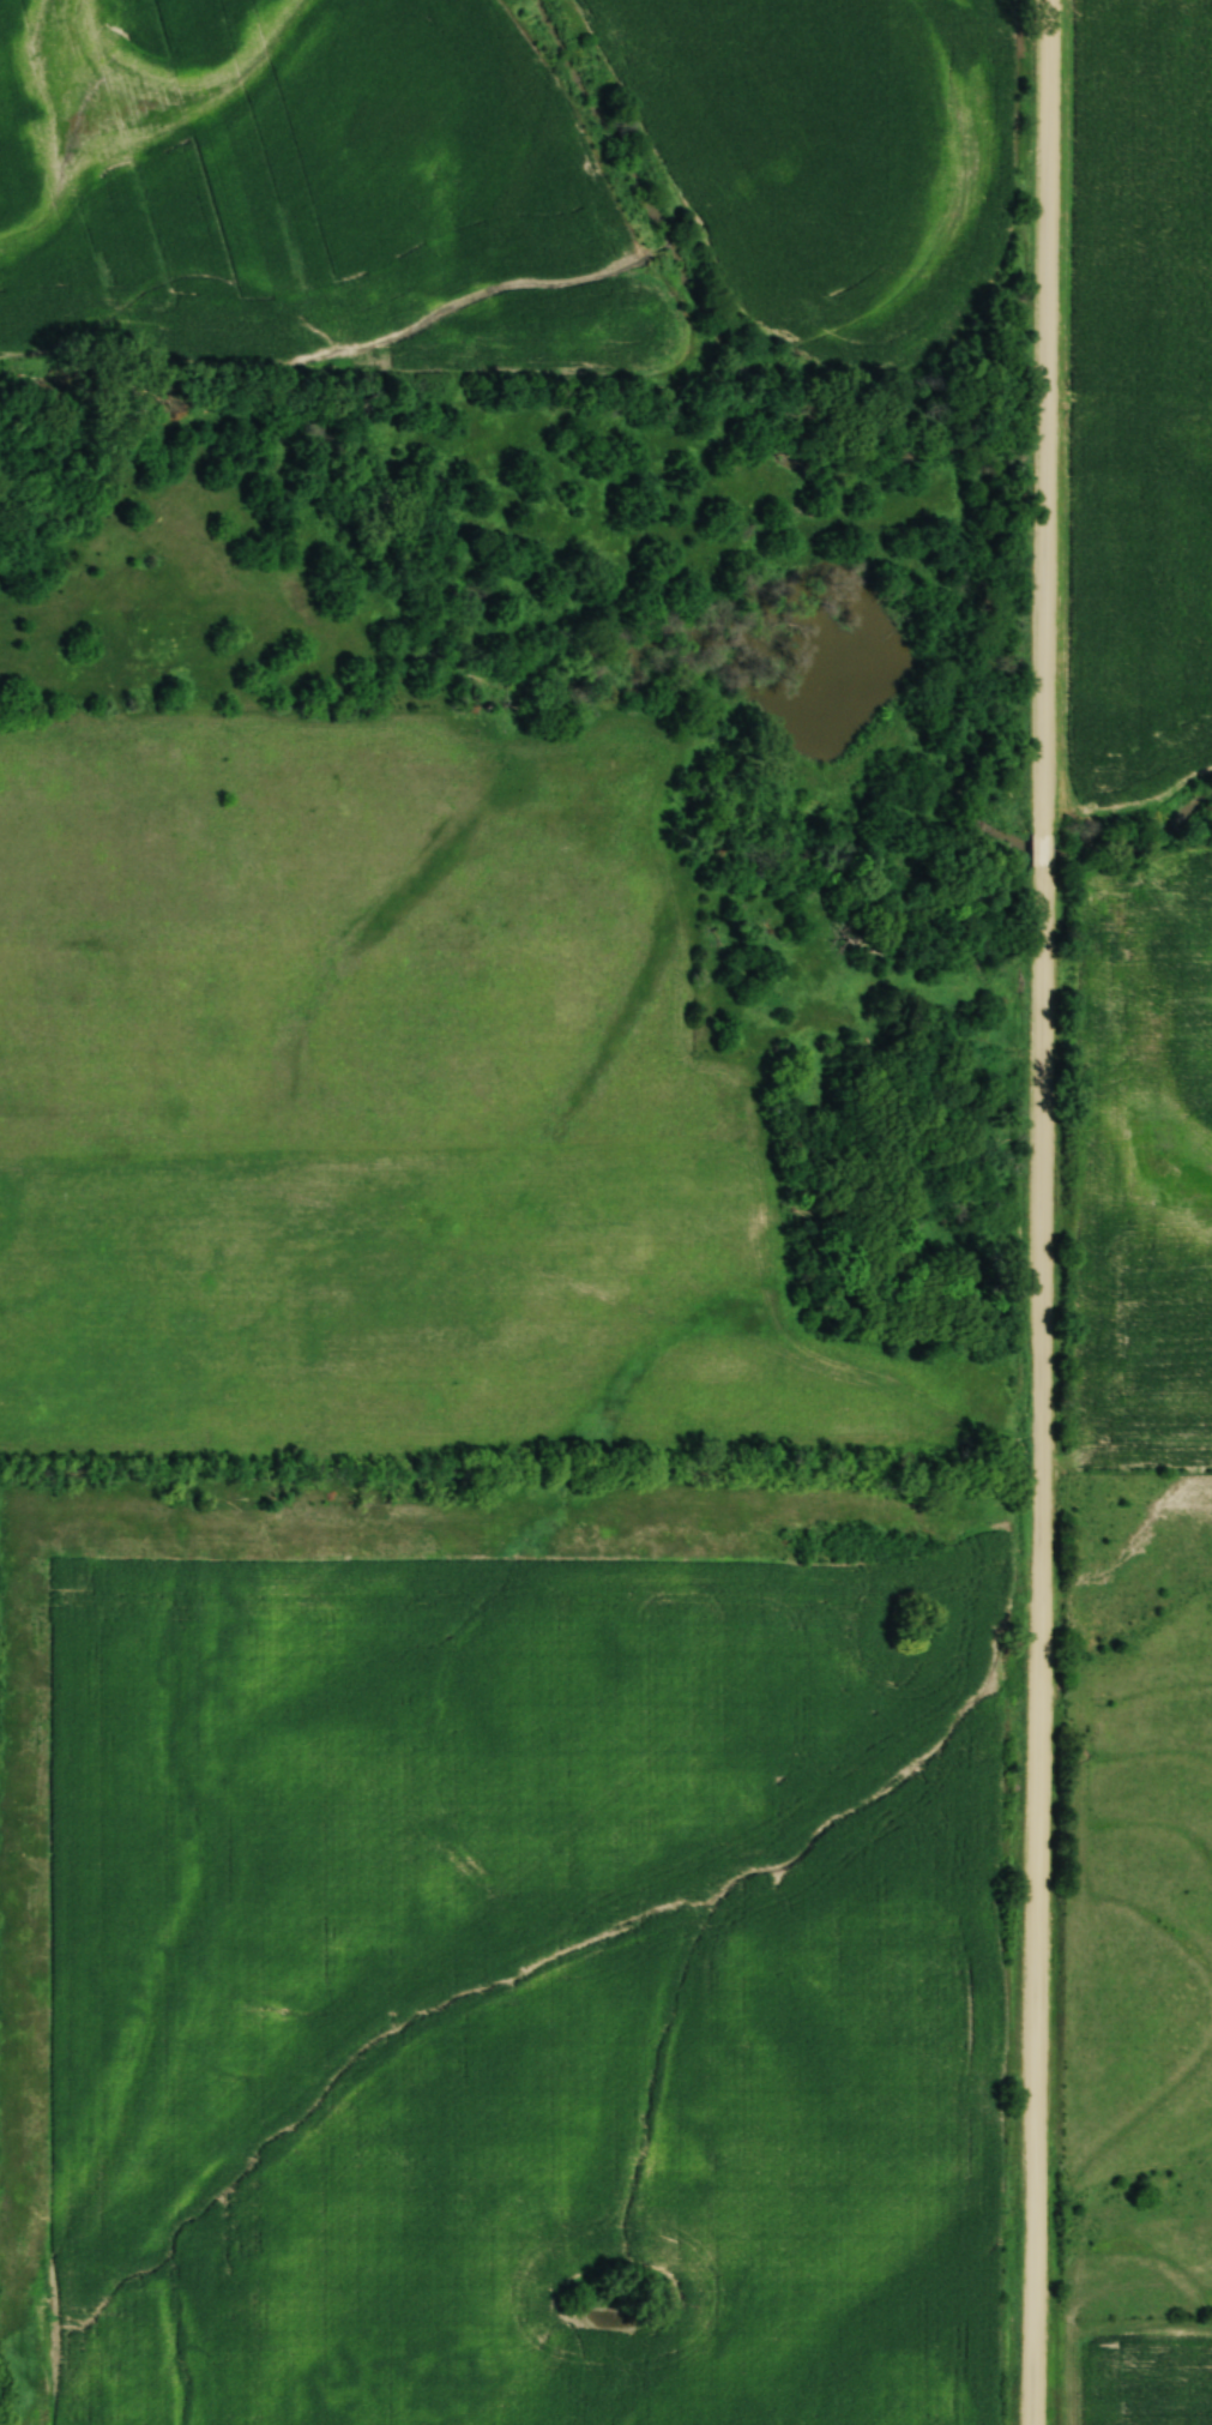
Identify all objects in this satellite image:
road: (1038, 1212)

